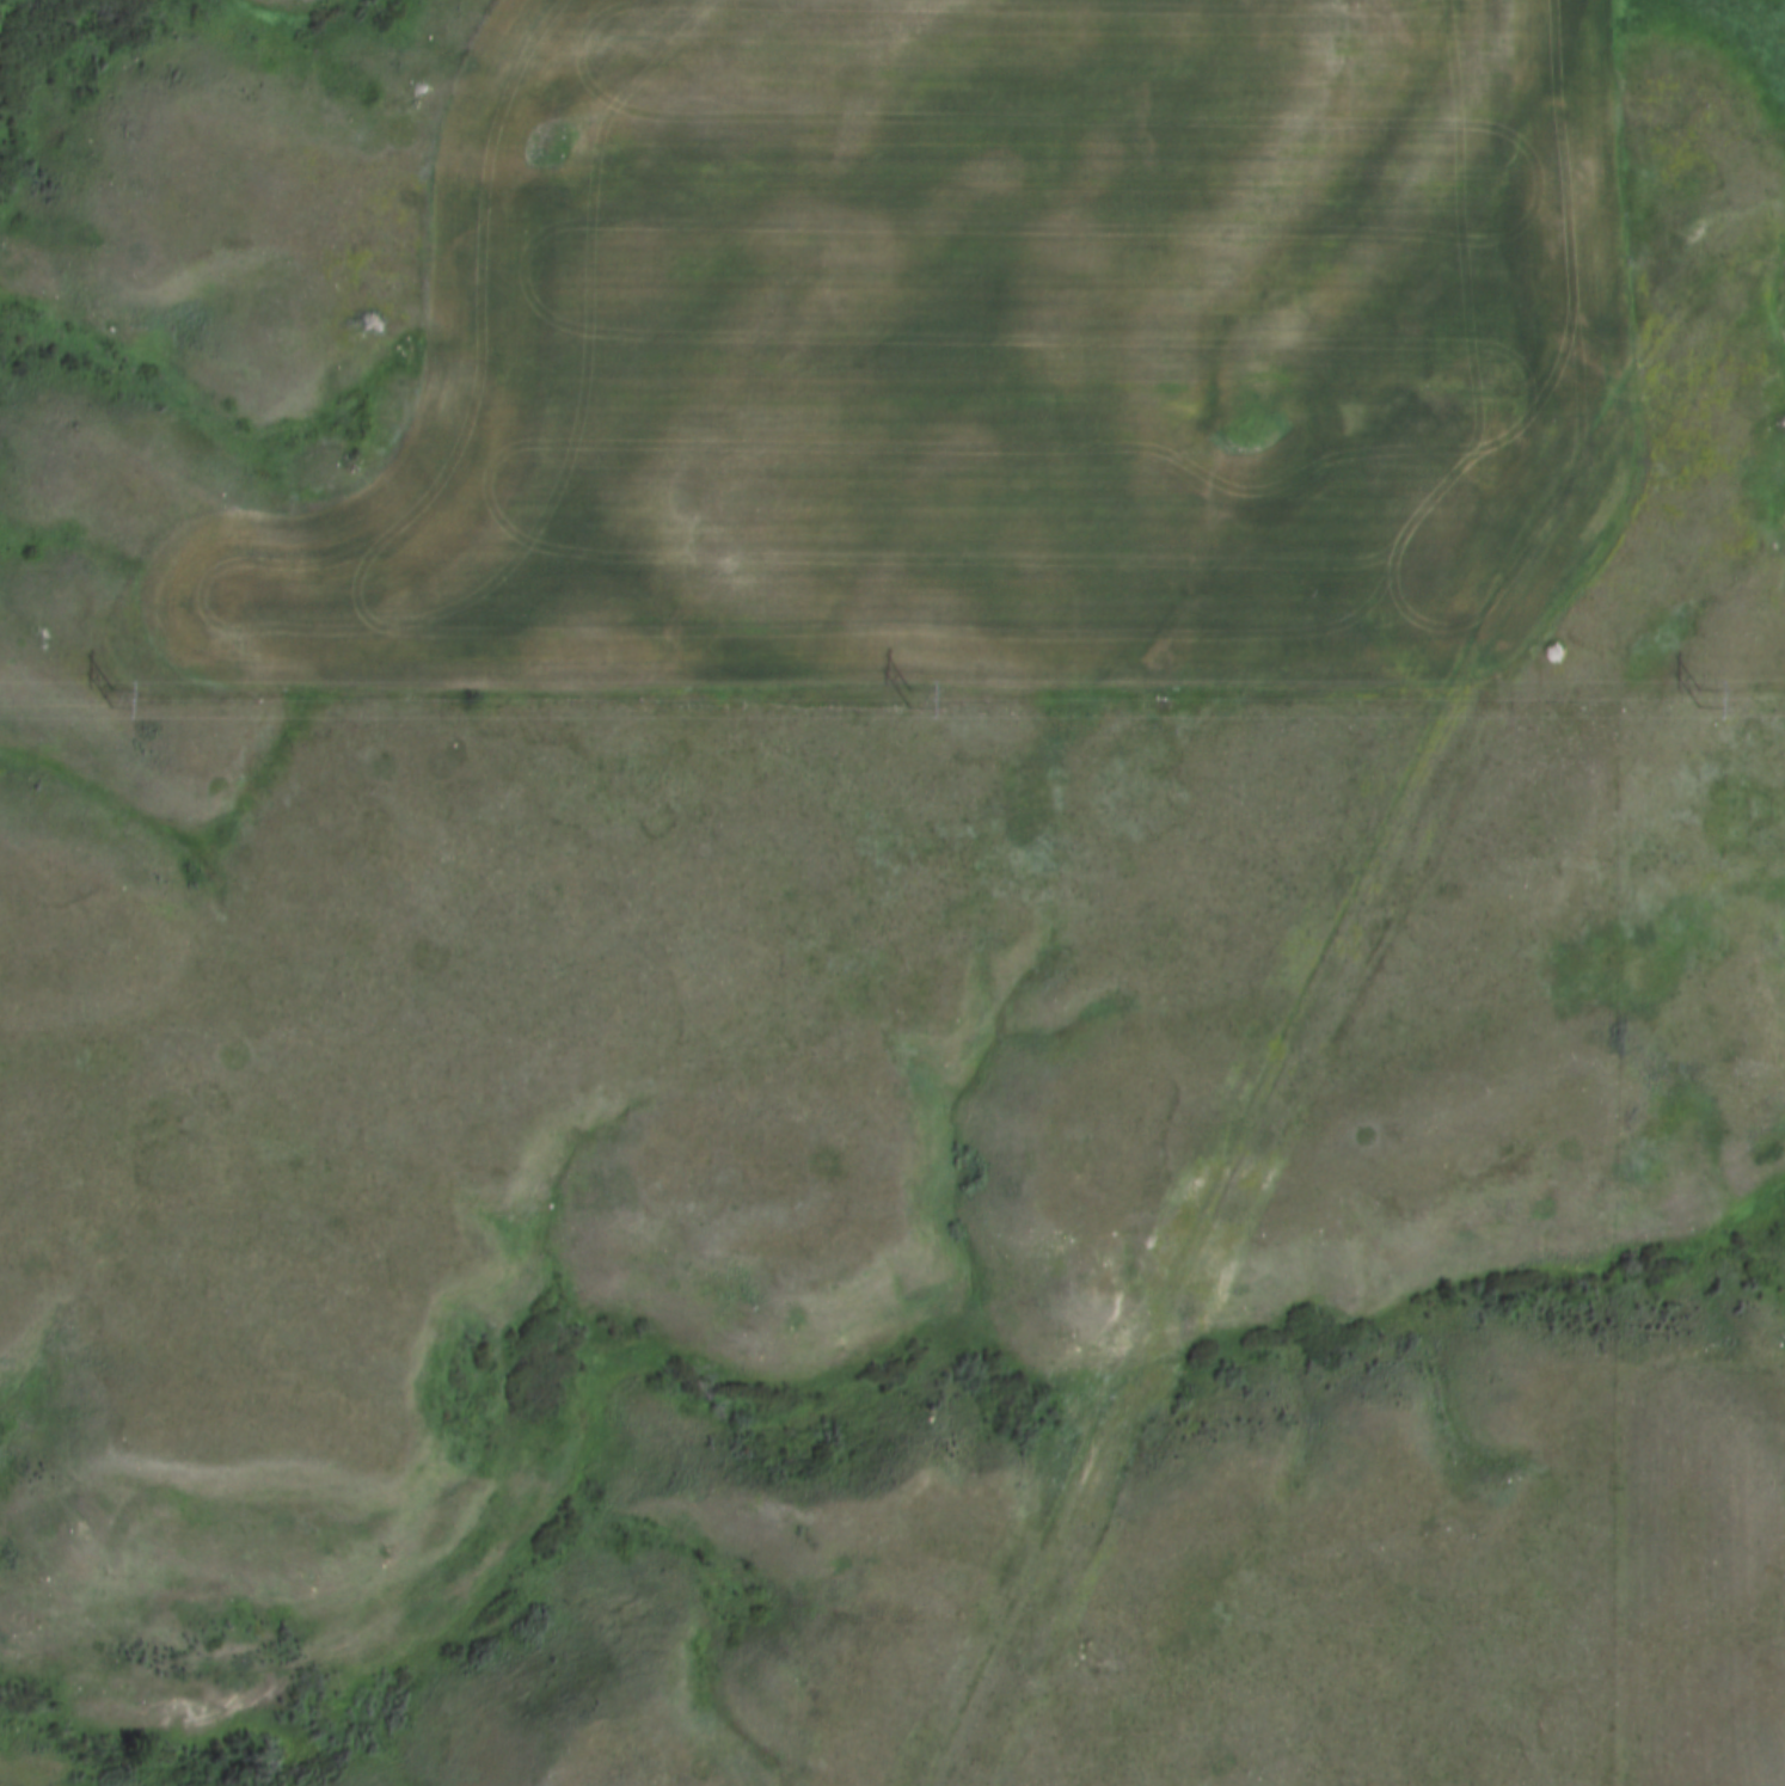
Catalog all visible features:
power tower: (102, 698)
power tower: (904, 698)
power tower: (1693, 698)

